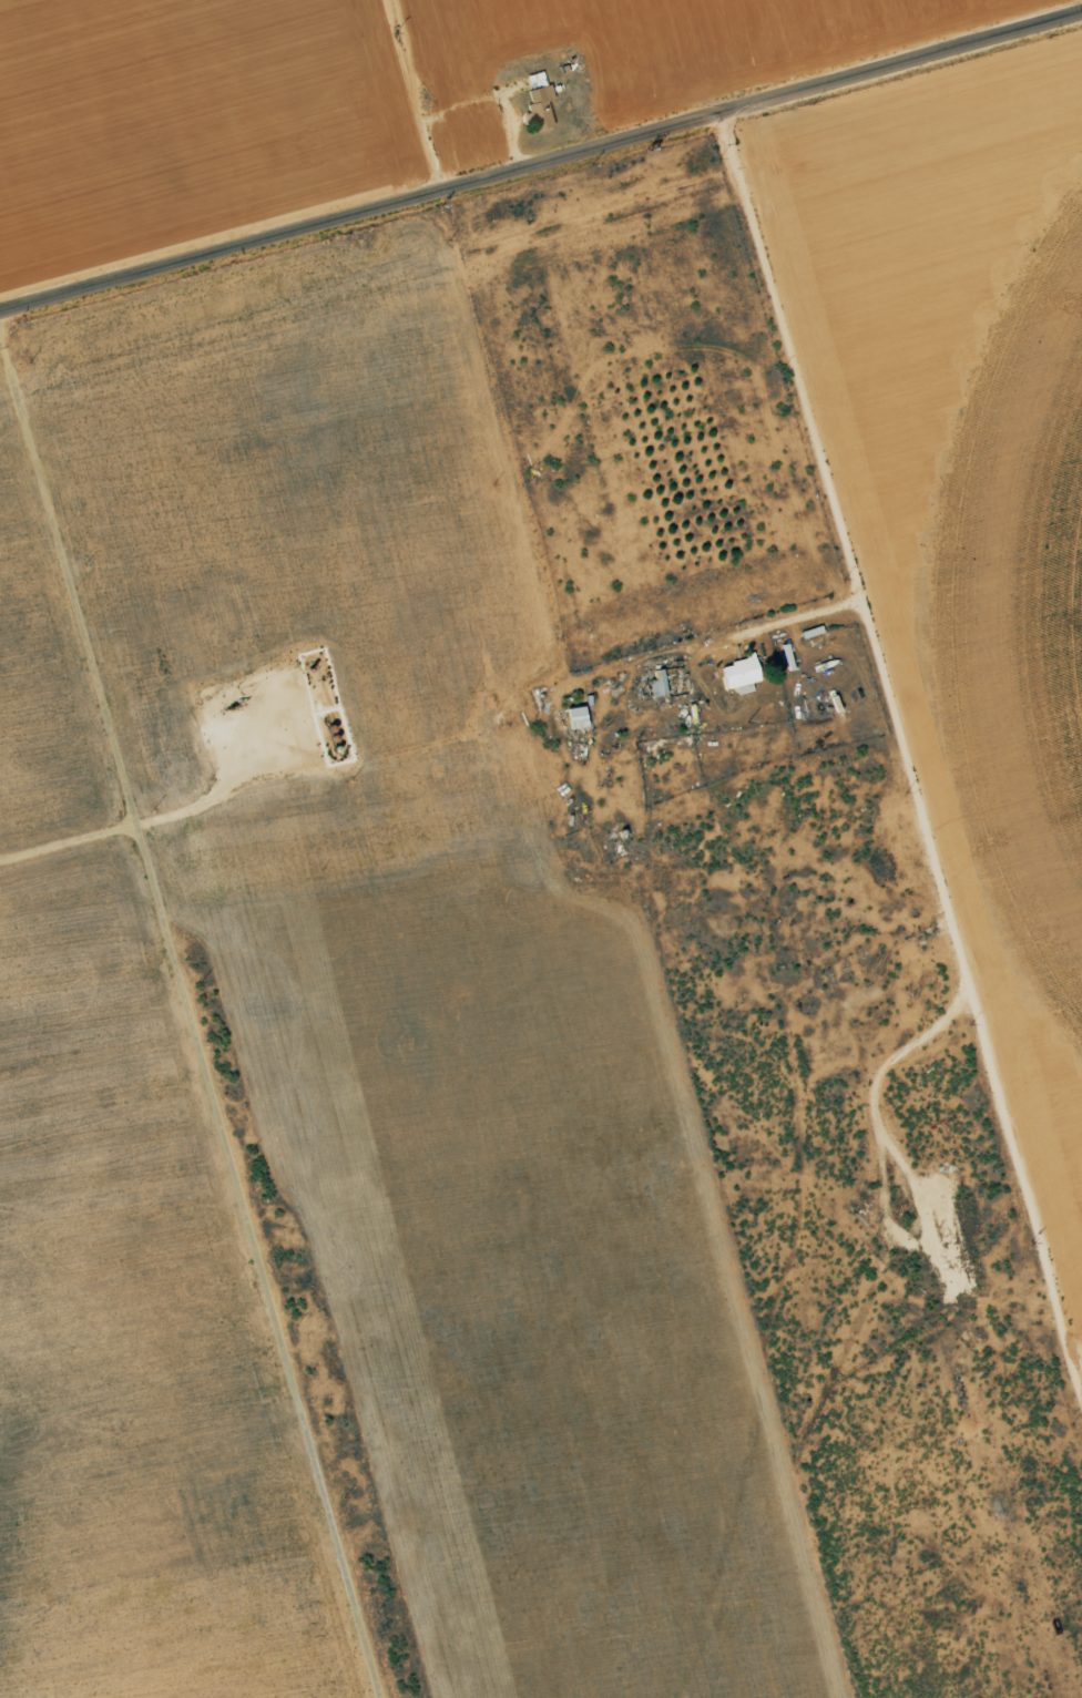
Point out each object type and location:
building: (540, 108)
road: (541, 160)
building: (741, 674)
road: (891, 810)

